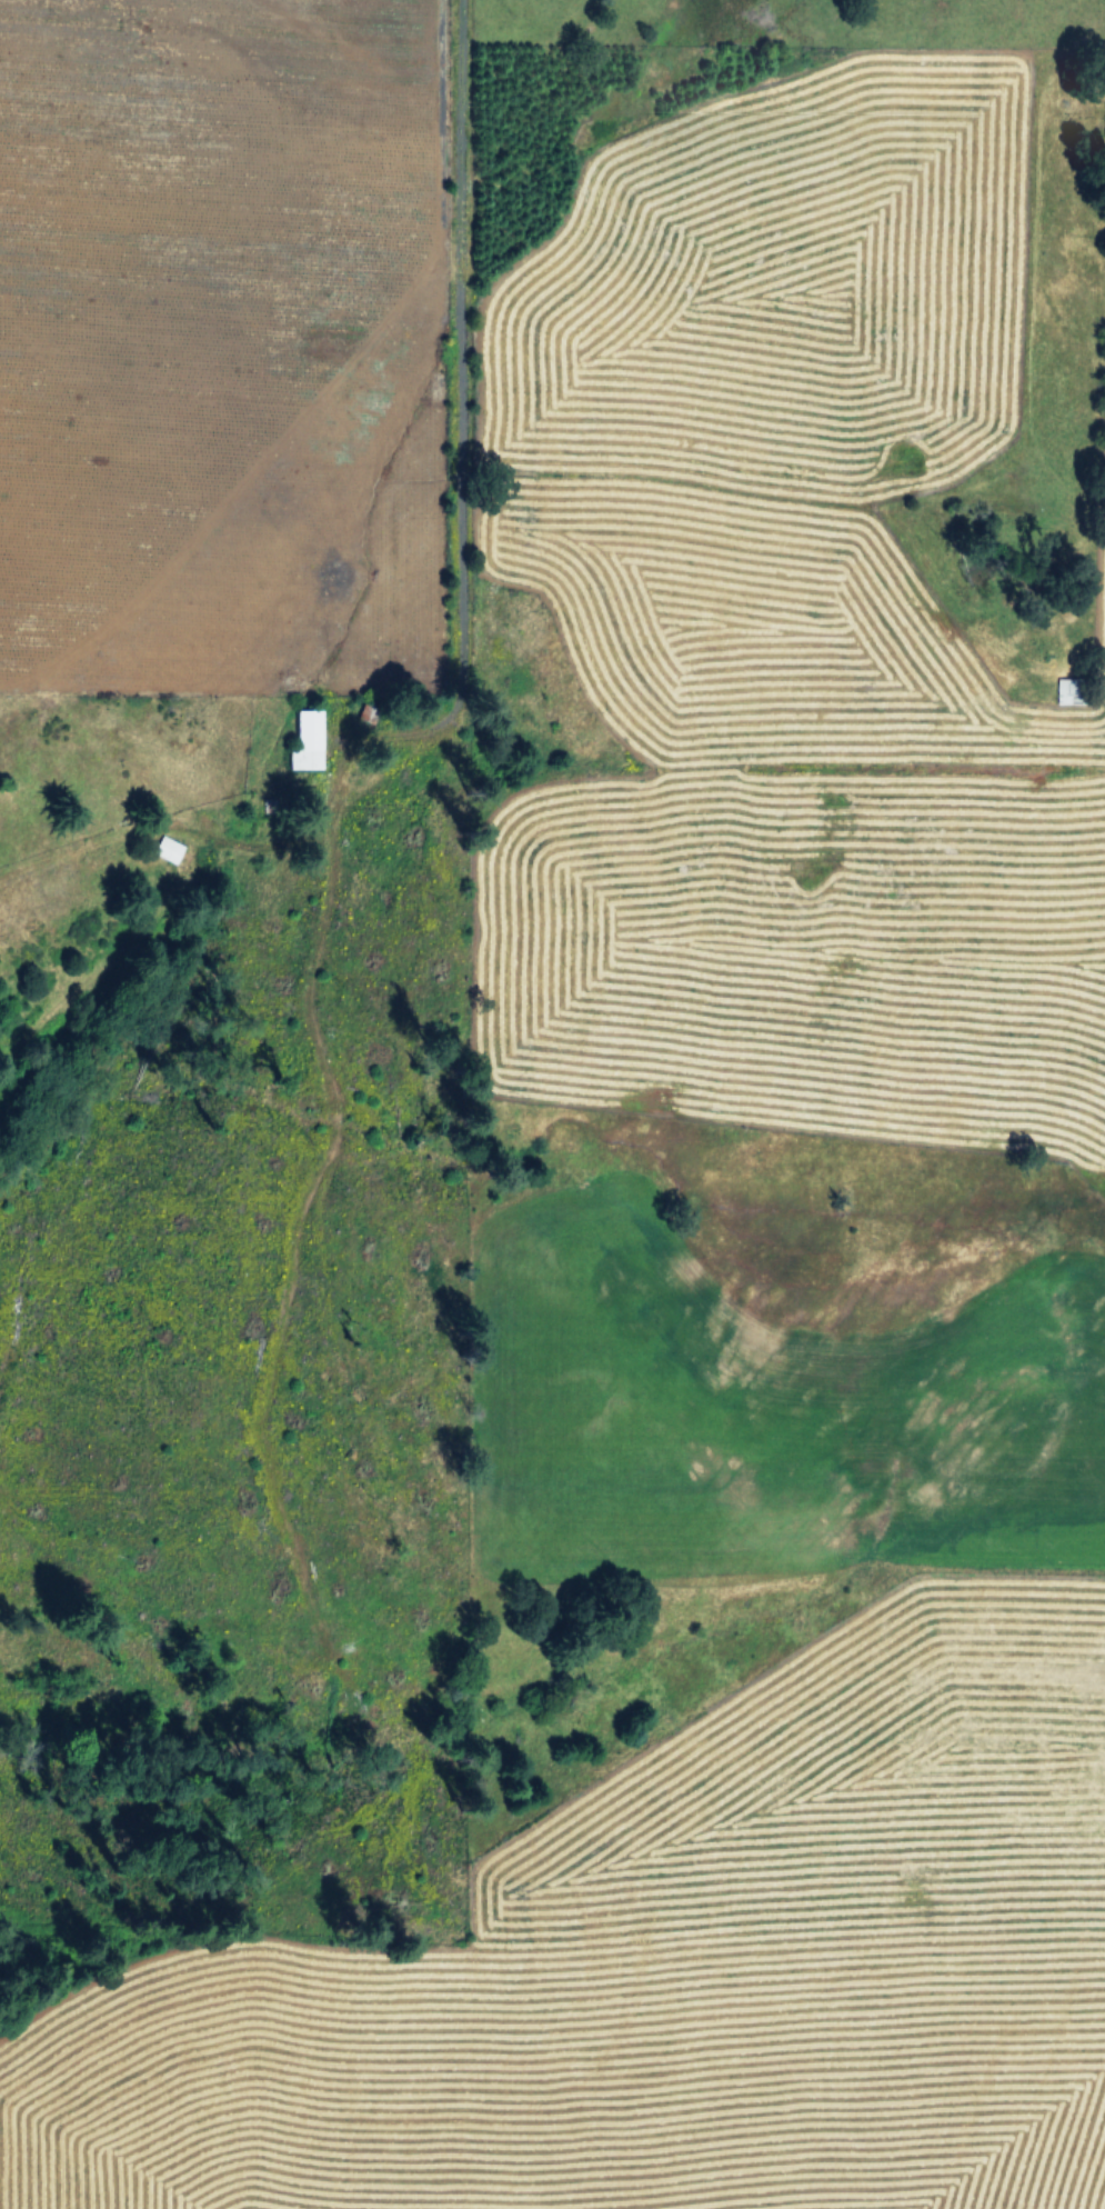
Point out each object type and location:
road: (455, 346)
building: (304, 740)
crop: (746, 1170)

